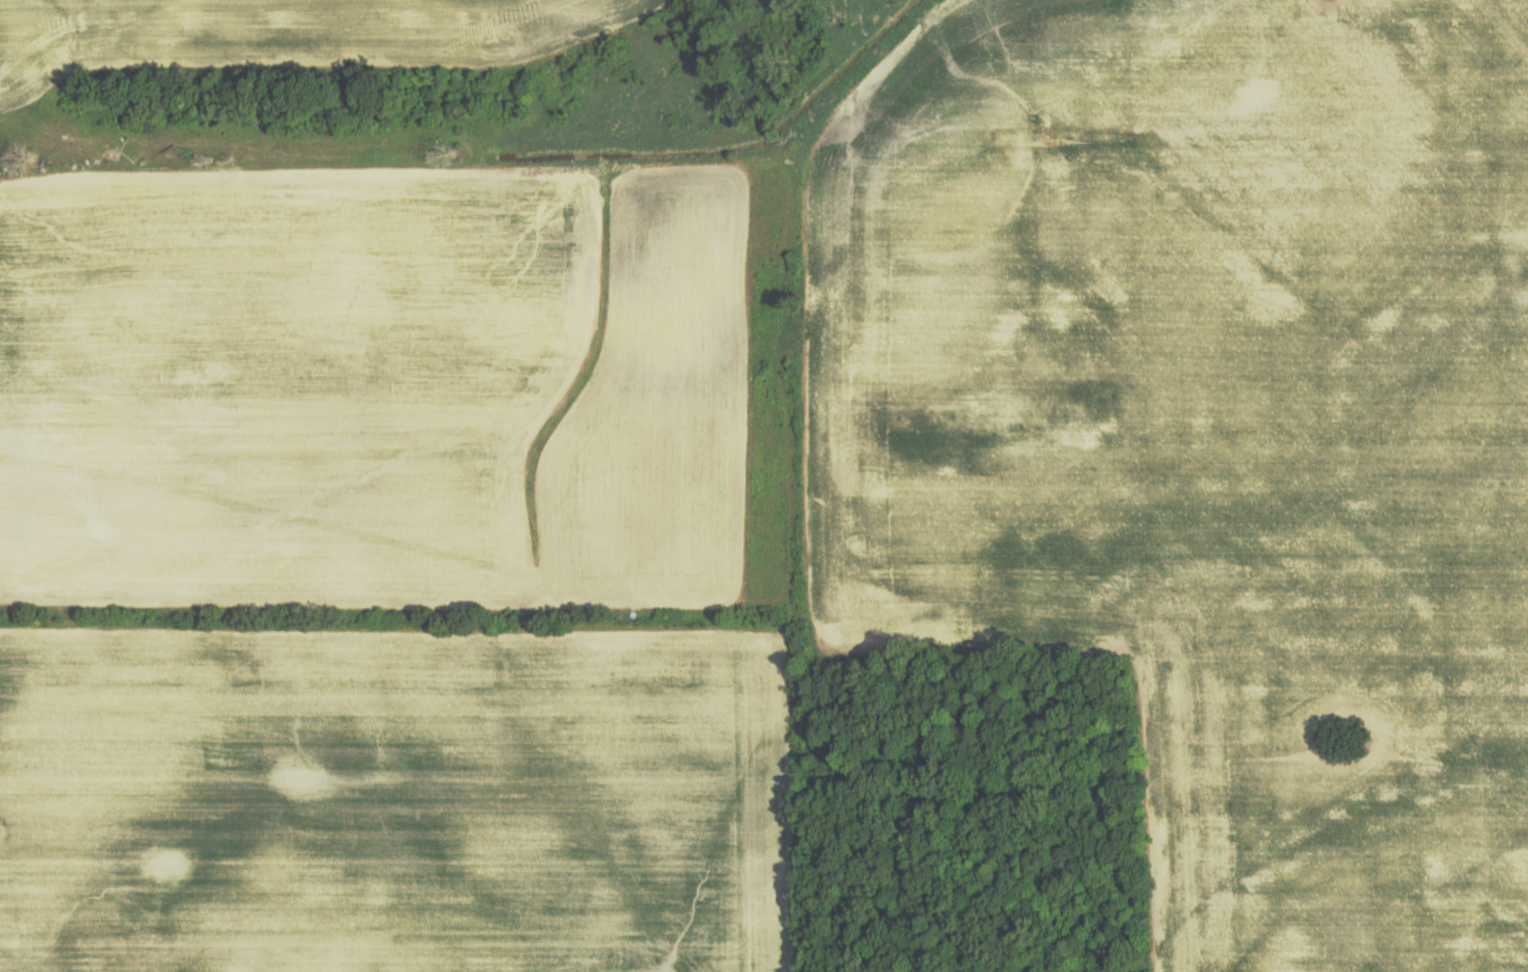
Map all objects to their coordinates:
crop: (417, 21)
crop: (19, 57)
crop: (371, 391)
crop: (1223, 421)
crop: (387, 803)

